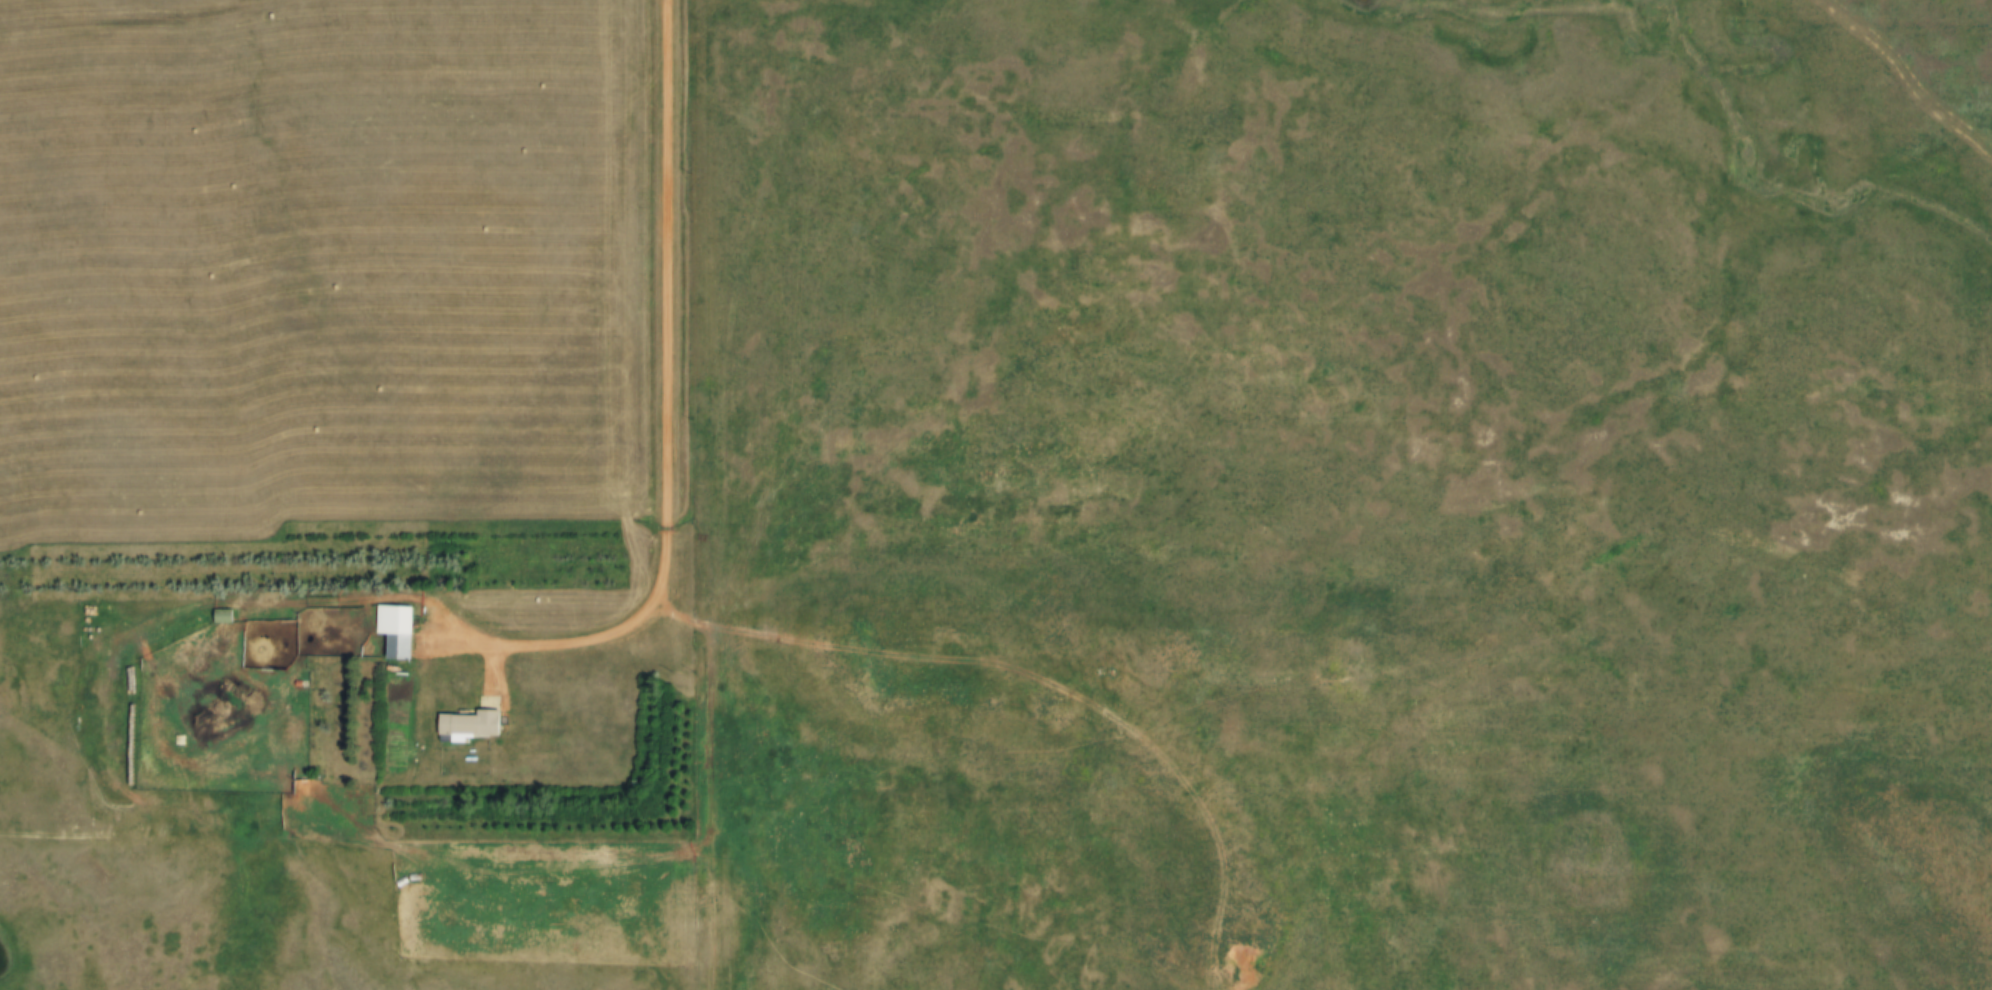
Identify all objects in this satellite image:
road: (701, 316)
road: (667, 414)
building: (221, 615)
building: (393, 630)
building: (467, 724)
road: (710, 782)
road: (98, 838)

